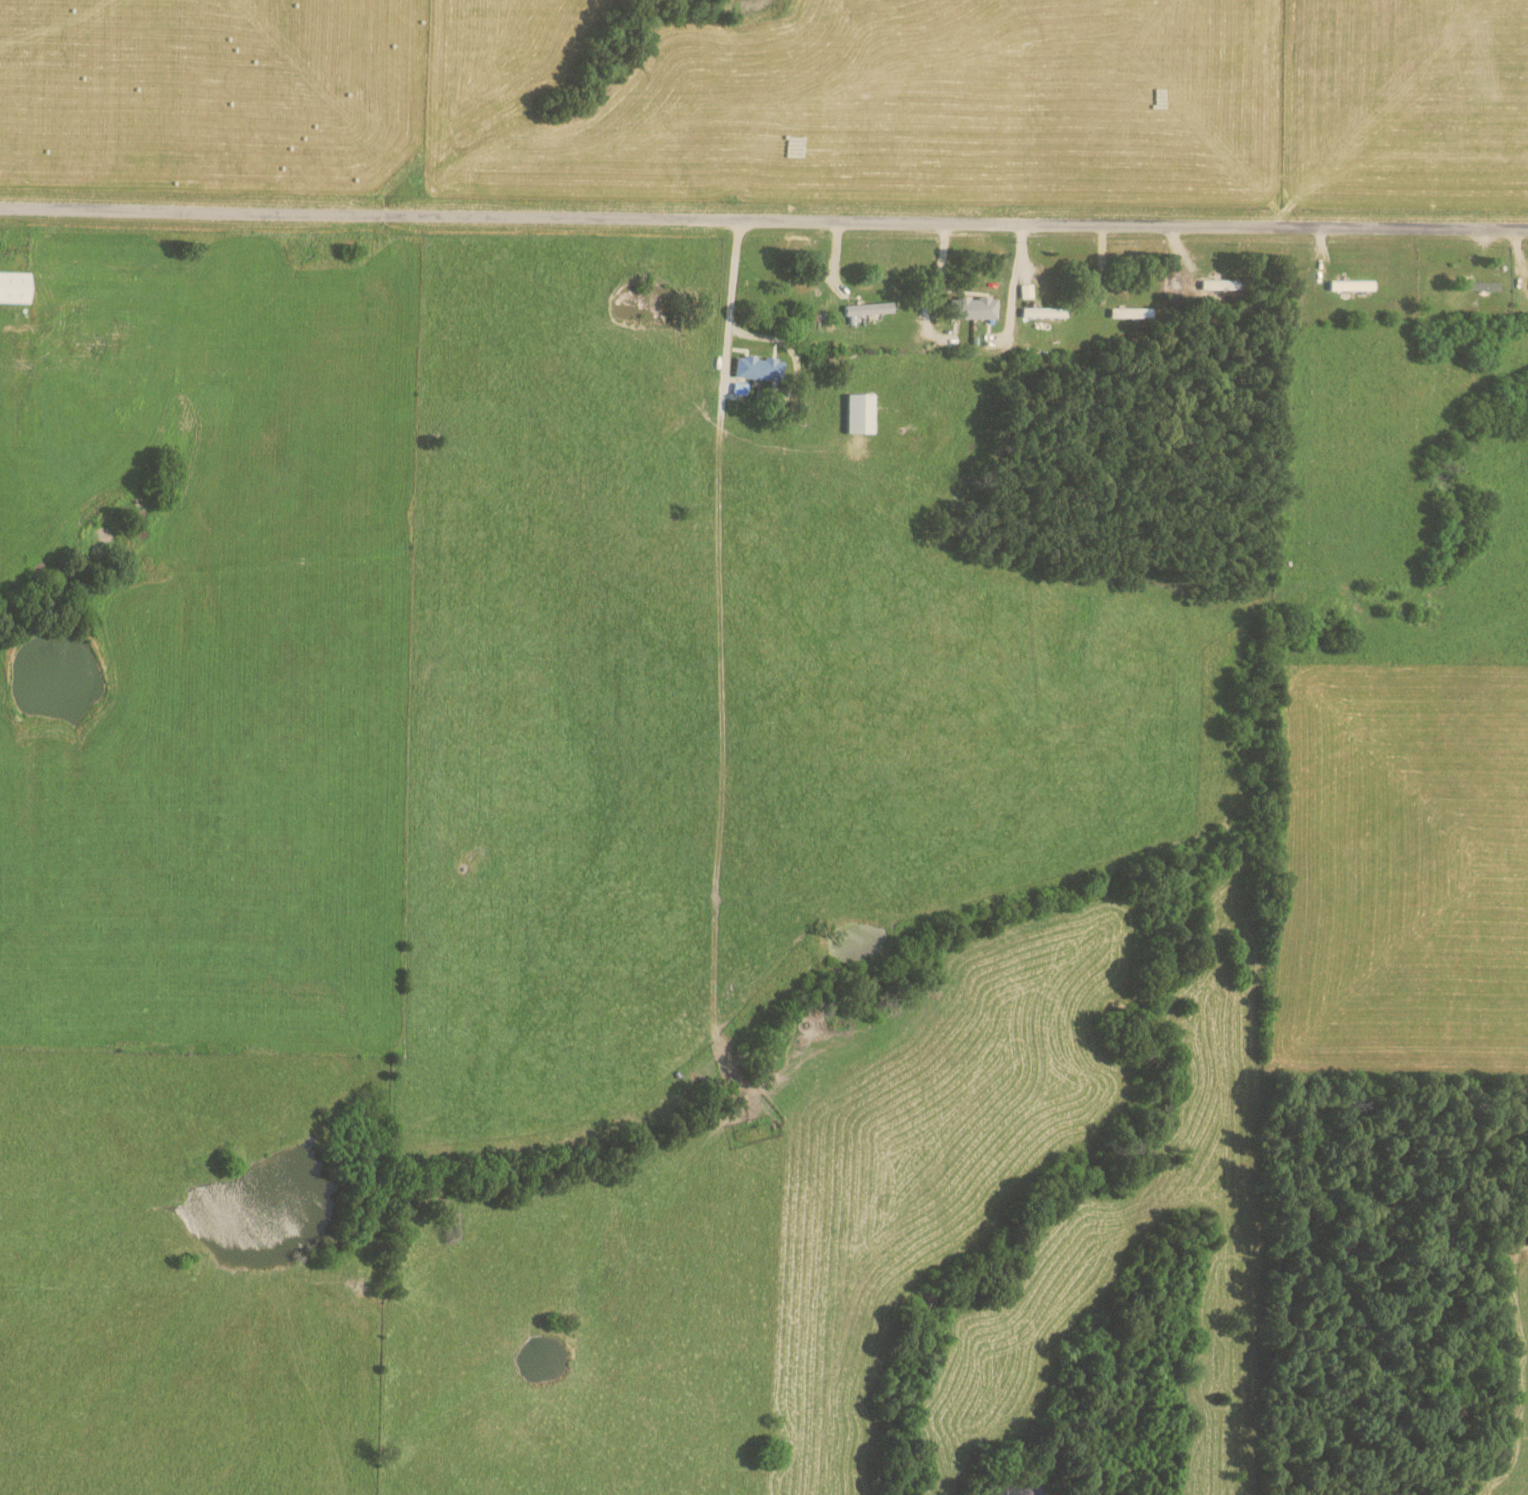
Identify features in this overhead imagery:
road: (763, 222)
building: (16, 287)
road: (731, 305)
building: (974, 308)
building: (870, 309)
building: (759, 368)
building: (863, 414)

